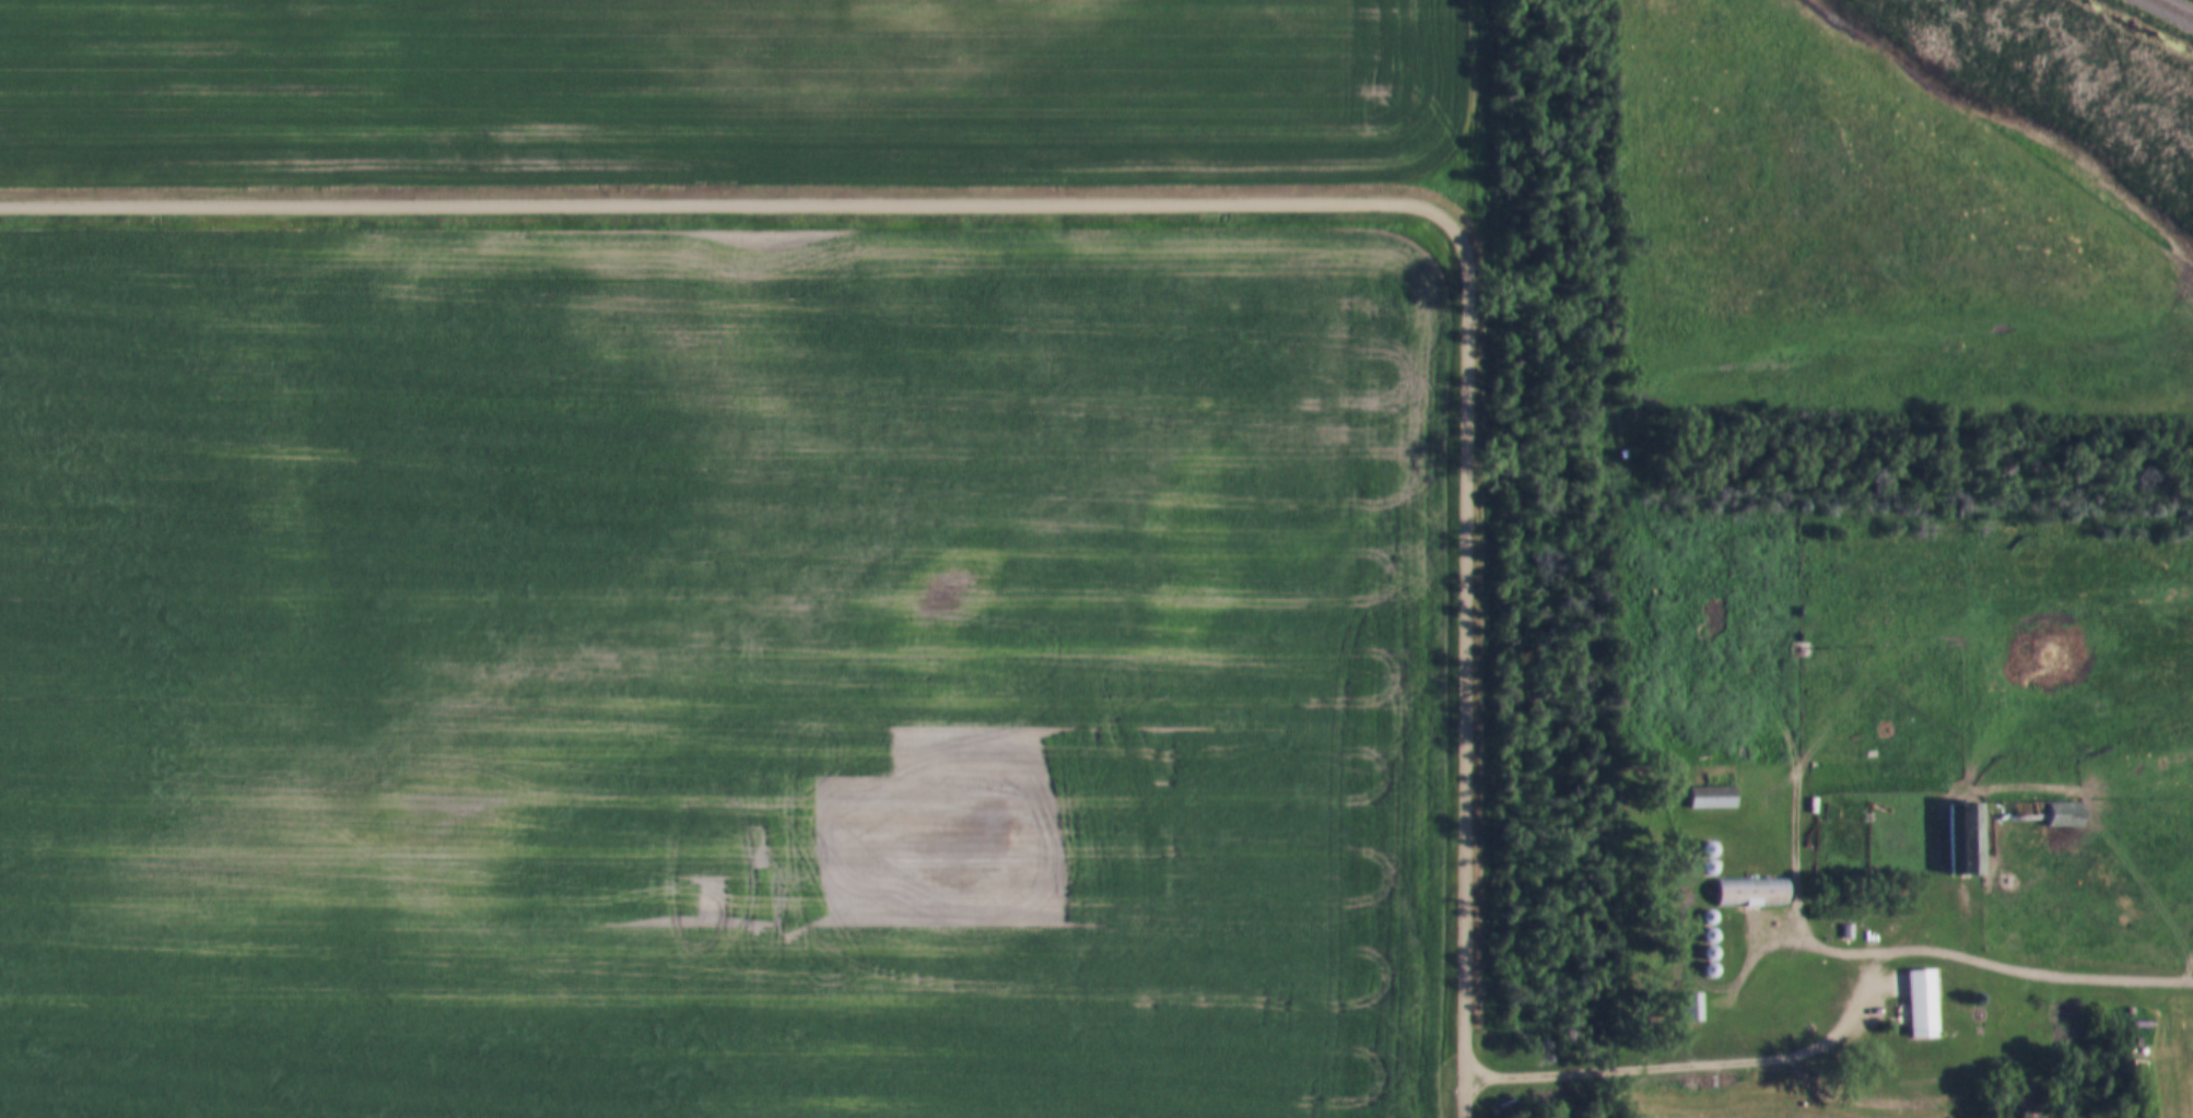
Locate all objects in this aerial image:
railway: (2171, 10)
road: (1476, 101)
road: (736, 201)
road: (1469, 638)
building: (1711, 799)
building: (1963, 852)
building: (1750, 894)
road: (2034, 968)
building: (1920, 1005)
building: (1690, 1010)
road: (1701, 1061)
road: (1469, 1097)

